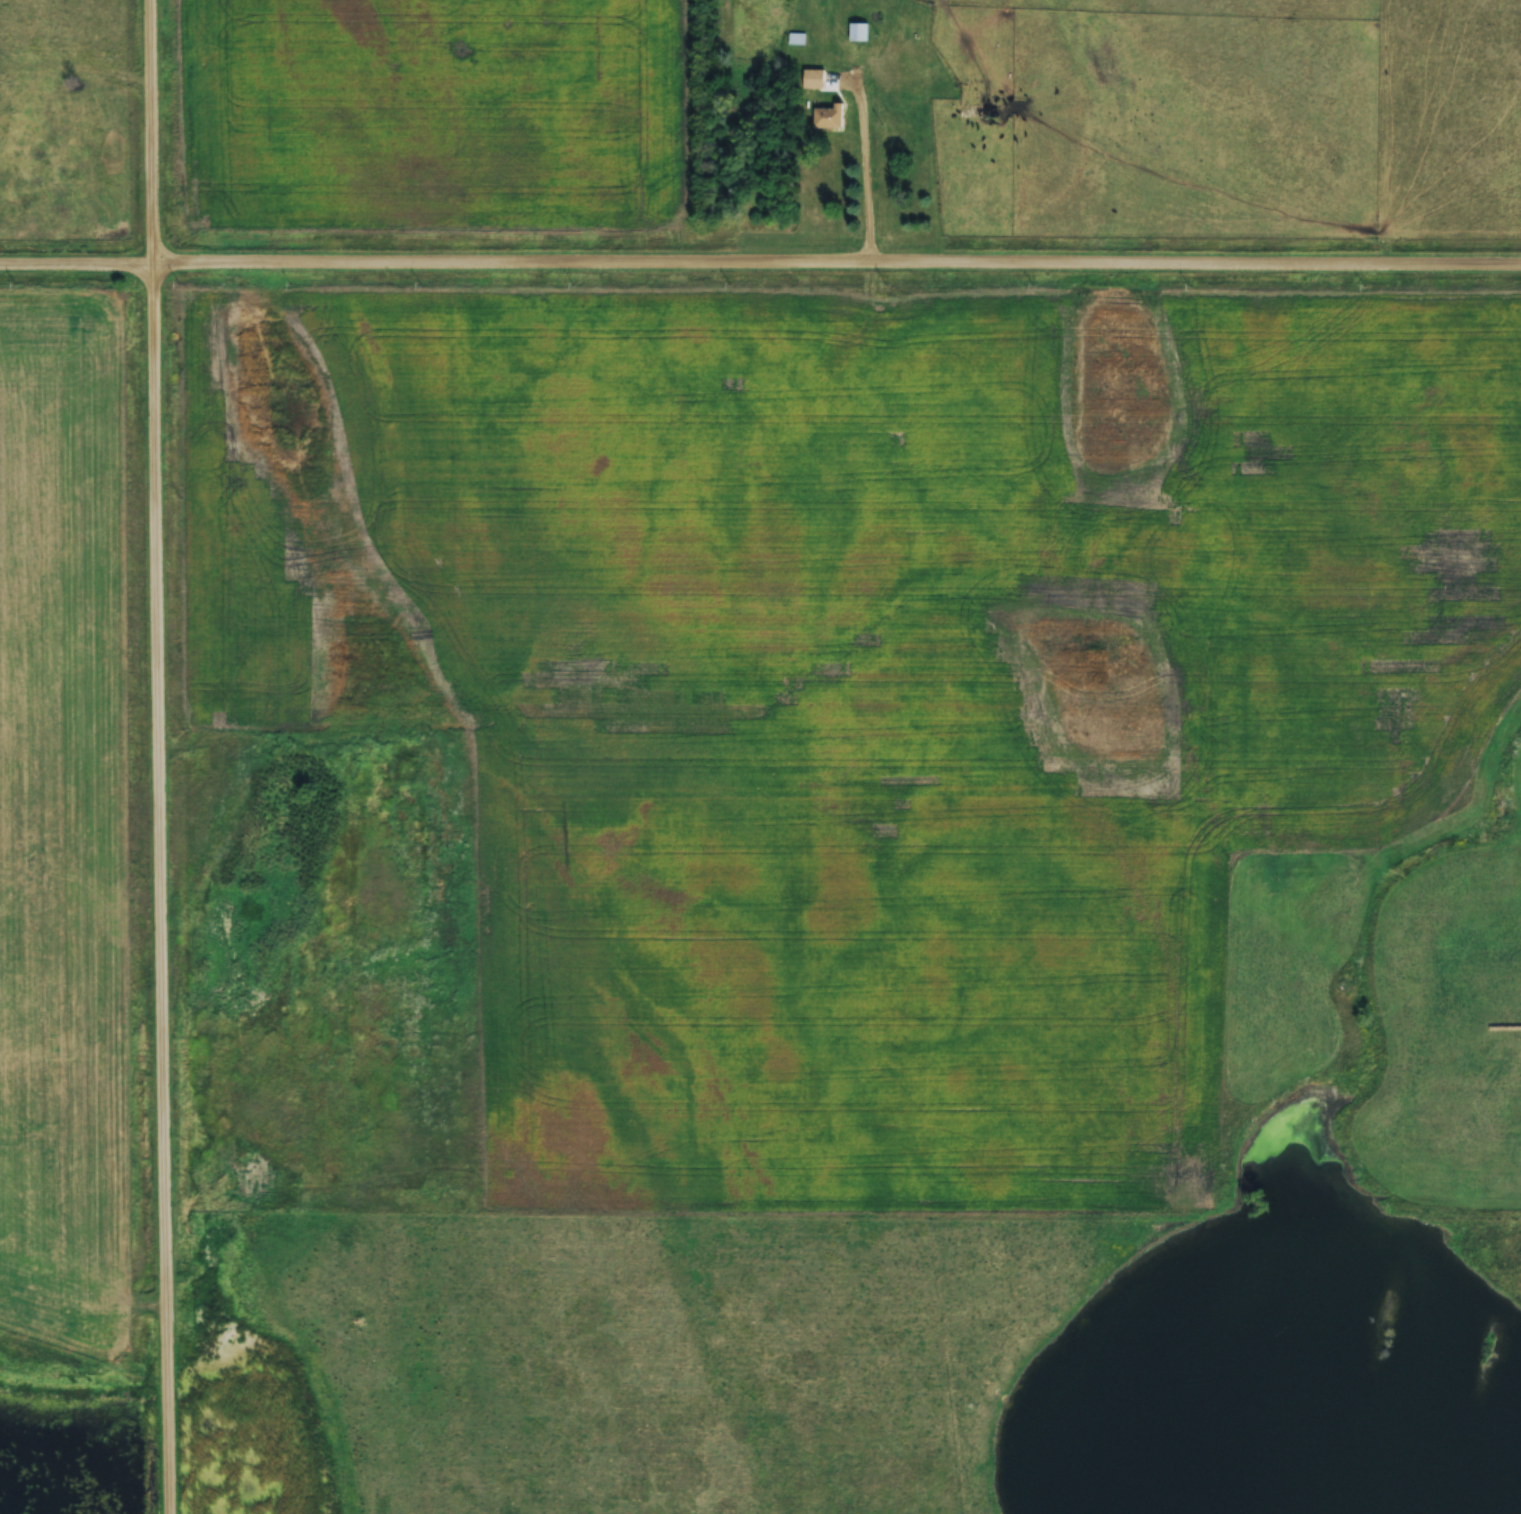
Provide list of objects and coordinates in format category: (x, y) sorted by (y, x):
building: (857, 31)
building: (813, 79)
building: (973, 88)
building: (907, 99)
building: (969, 110)
crop: (429, 113)
building: (828, 117)
road: (863, 174)
road: (760, 262)
road: (140, 757)

